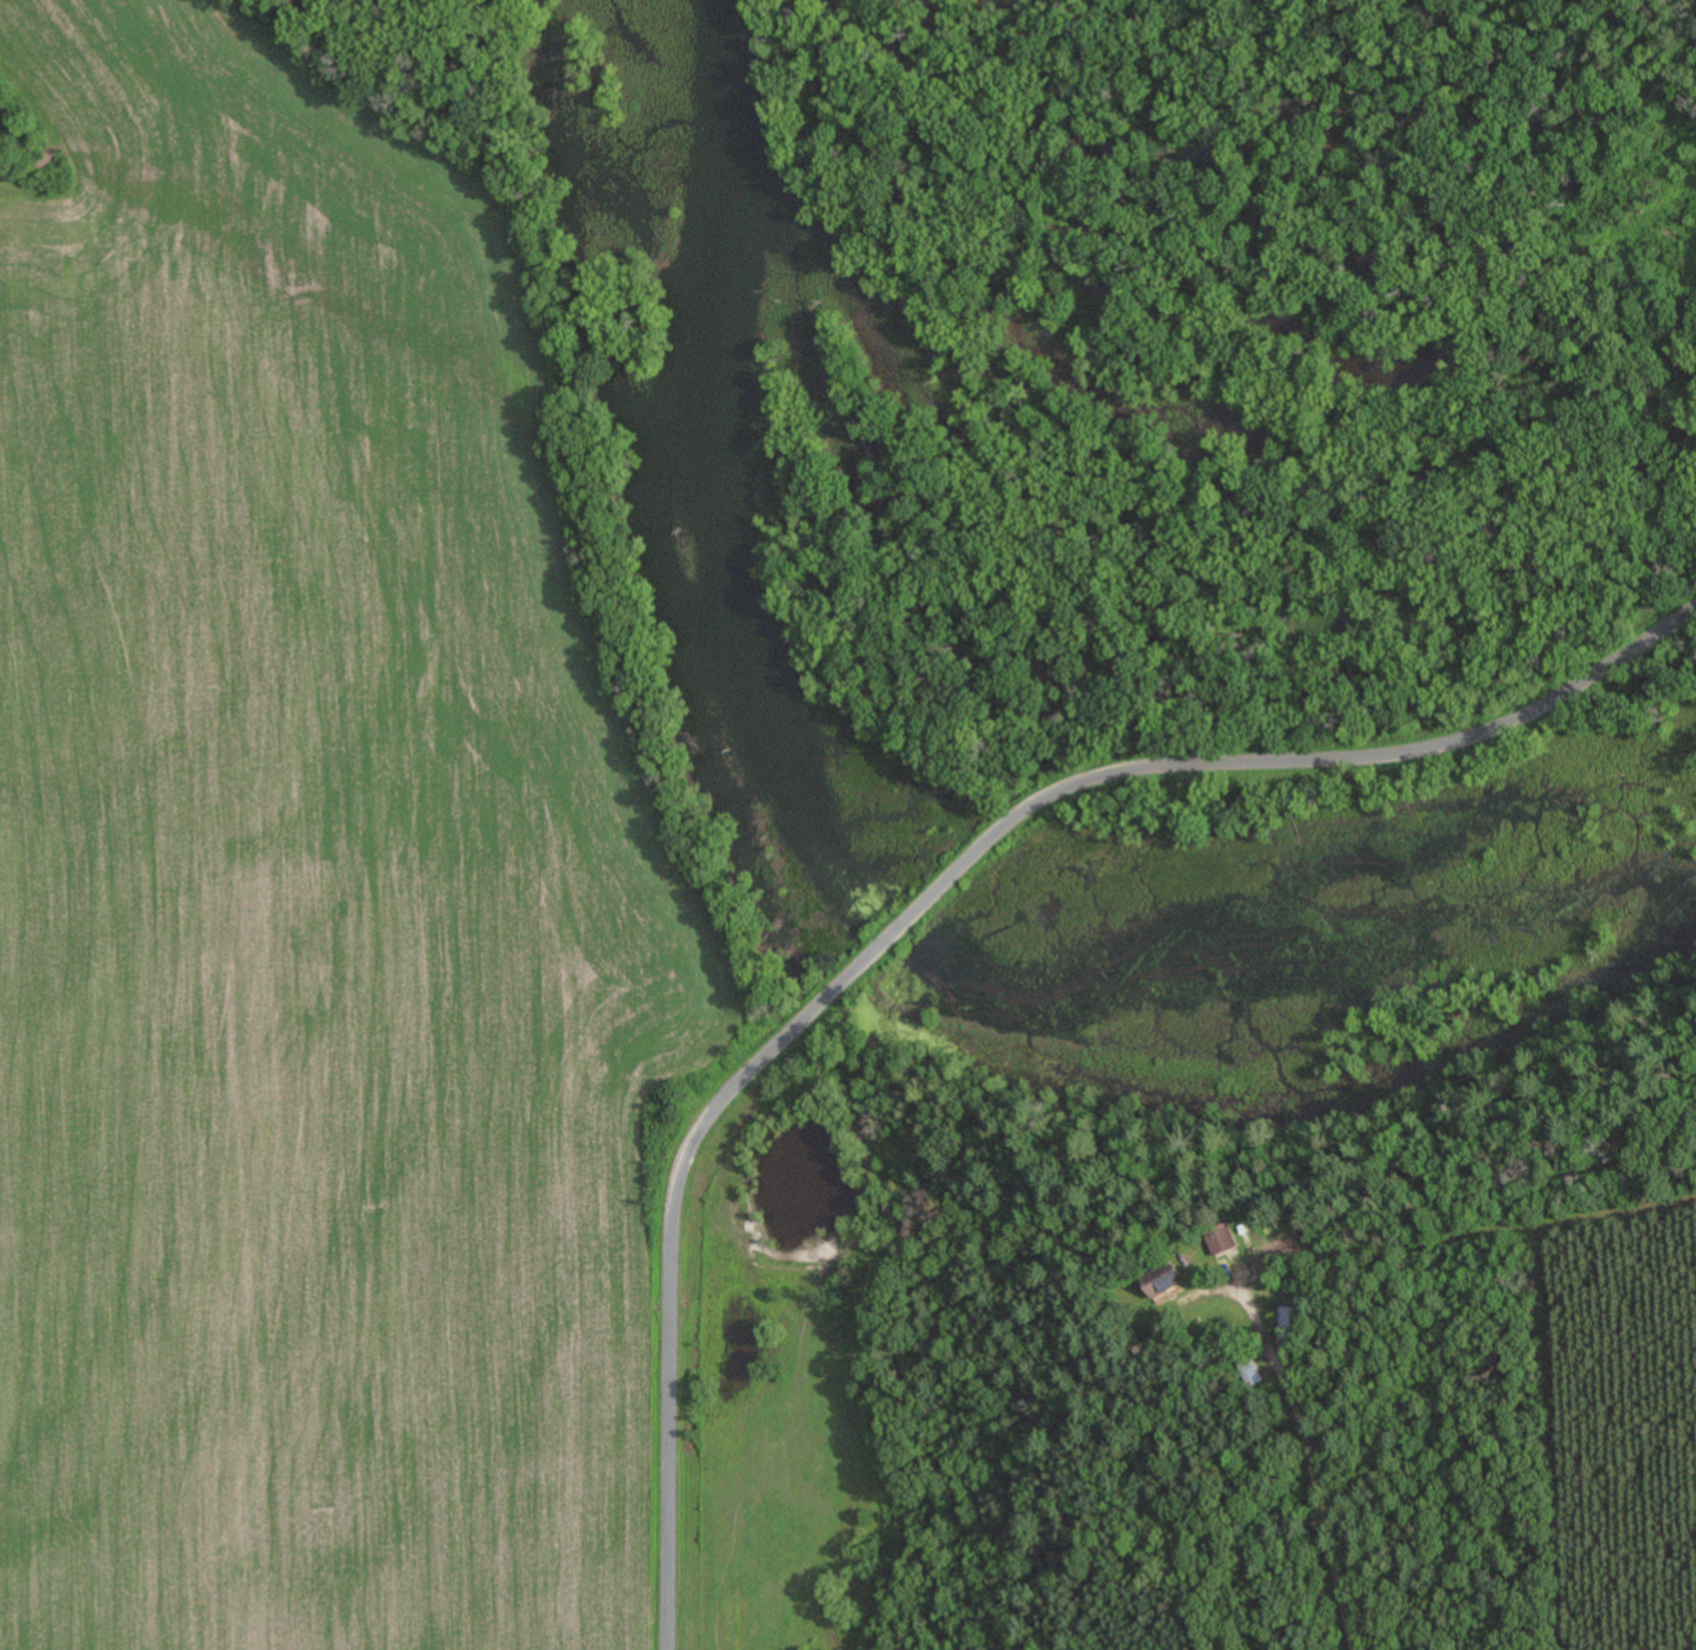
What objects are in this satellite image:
road: (930, 902)
building: (1221, 1244)
building: (1287, 1325)
building: (1249, 1373)
road: (1310, 1464)

